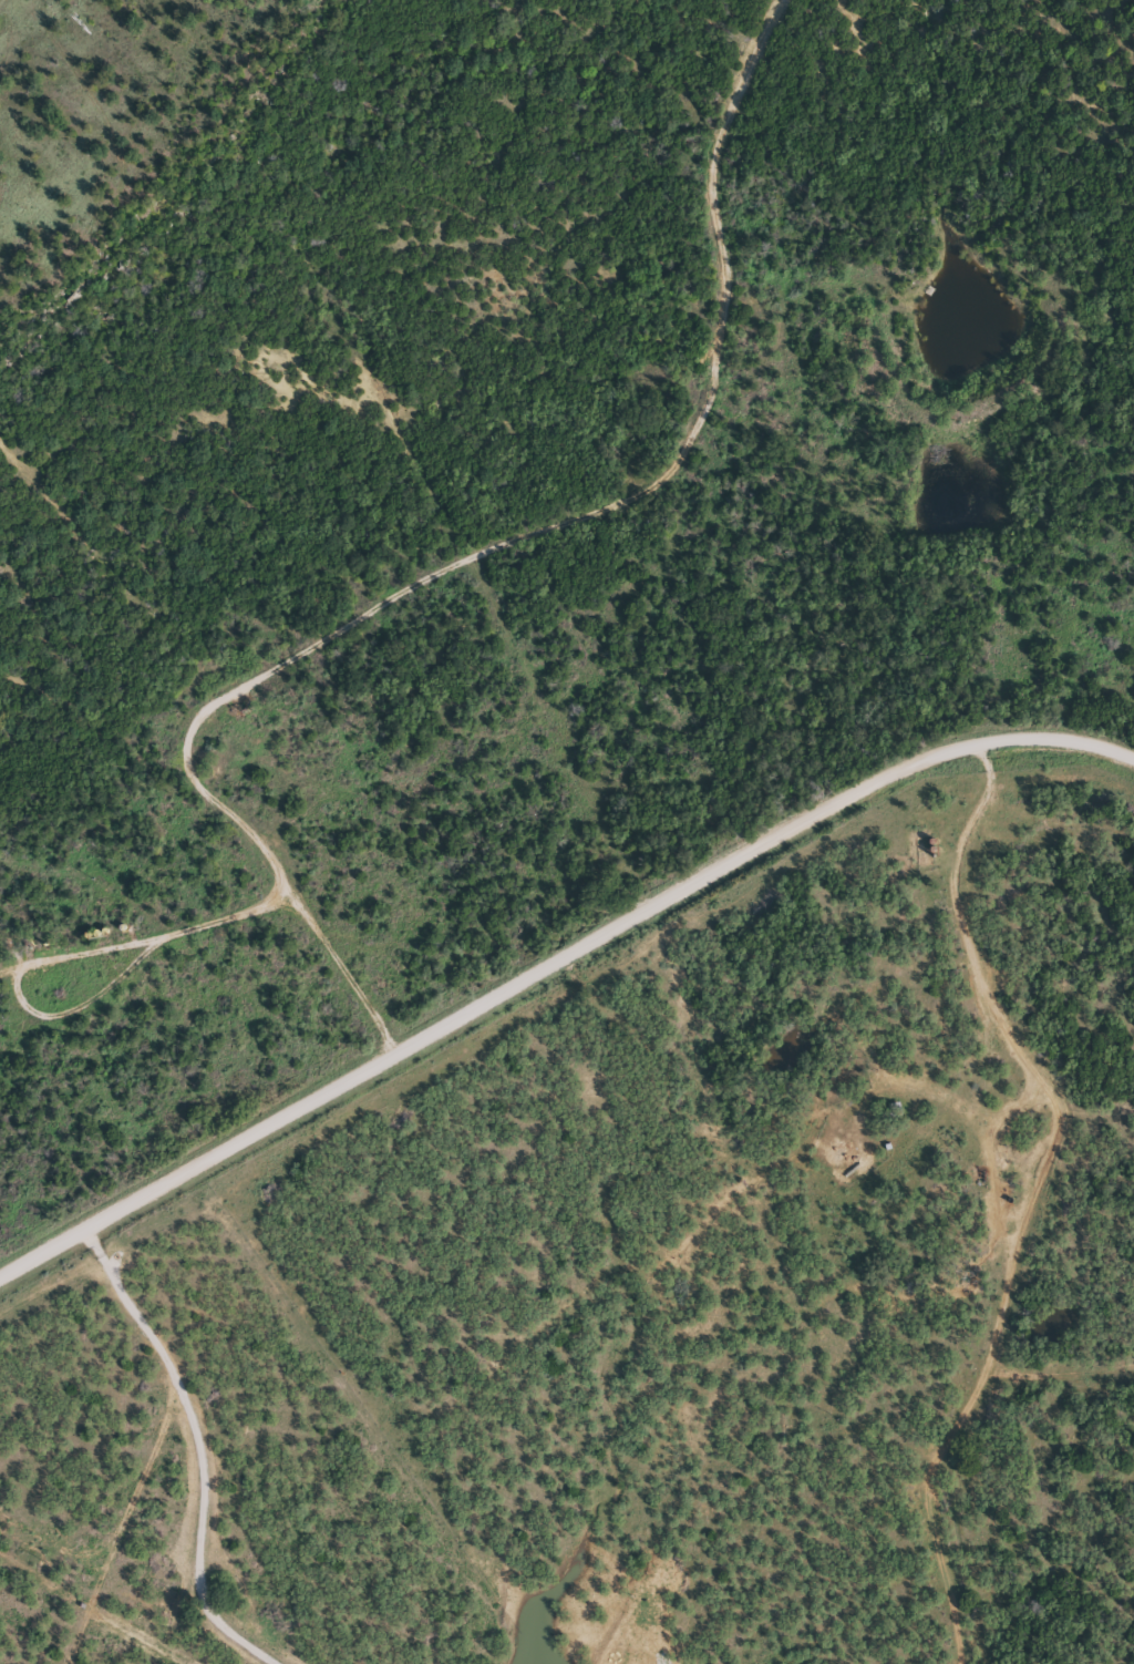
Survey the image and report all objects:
road: (461, 562)
road: (554, 964)
building: (895, 1109)

